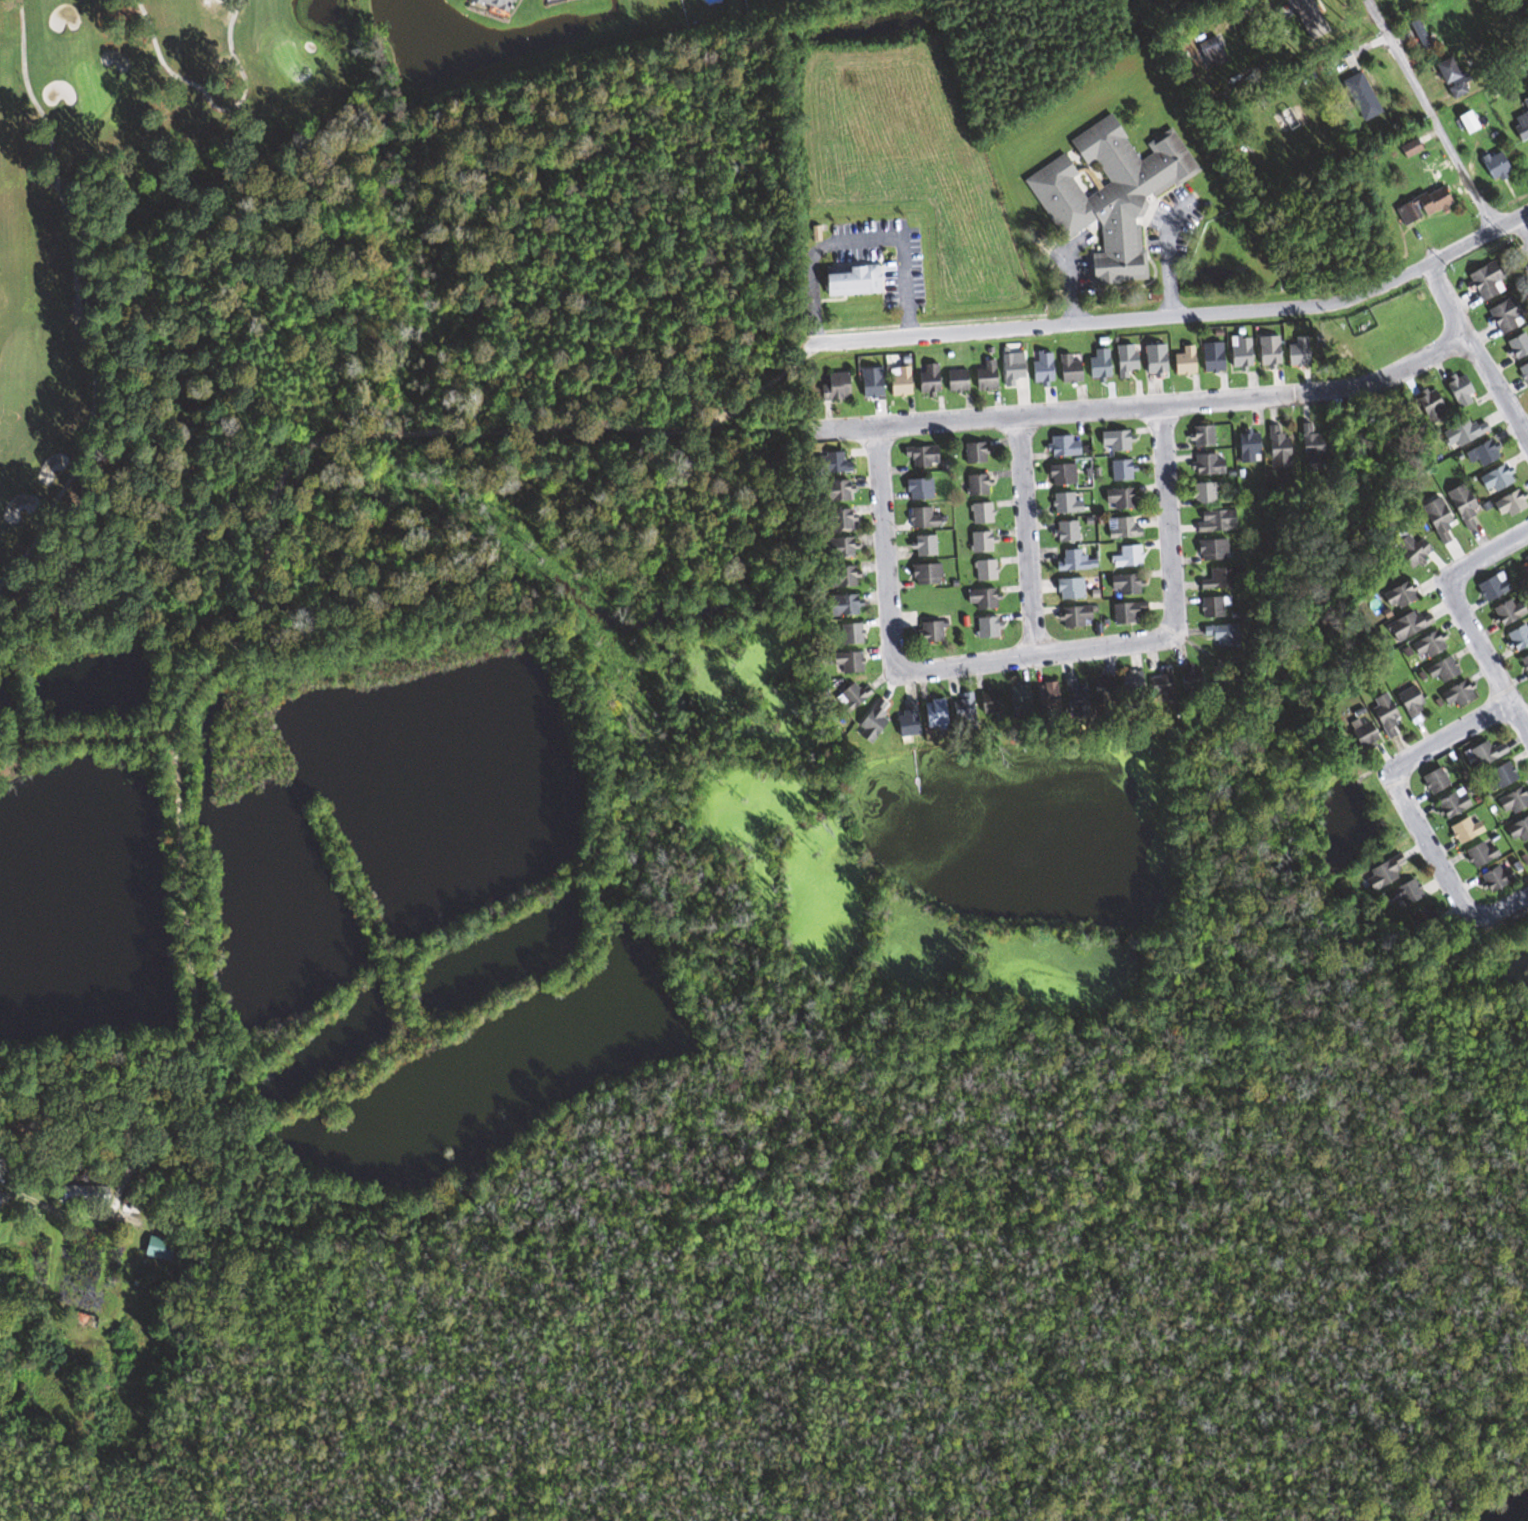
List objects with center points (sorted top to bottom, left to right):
building: (501, 3)
building: (1299, 11)
building: (1209, 53)
building: (1449, 79)
building: (1358, 97)
road: (1430, 115)
building: (1464, 122)
building: (1520, 129)
building: (1408, 148)
building: (1491, 166)
building: (1107, 194)
building: (1421, 205)
road: (1521, 231)
road: (1169, 264)
building: (856, 279)
building: (1482, 279)
road: (1071, 292)
building: (1501, 314)
building: (1516, 345)
road: (1476, 349)
building: (1266, 351)
building: (1296, 352)
building: (1238, 353)
building: (1209, 357)
building: (1152, 359)
building: (1122, 360)
building: (1181, 361)
building: (1095, 364)
building: (1009, 369)
building: (1039, 369)
building: (1066, 369)
building: (1523, 371)
building: (983, 376)
building: (932, 378)
building: (904, 380)
building: (958, 380)
building: (875, 382)
building: (840, 386)
building: (1458, 391)
road: (1145, 403)
building: (1429, 406)
road: (690, 428)
building: (1461, 432)
building: (1200, 435)
building: (1113, 440)
building: (1308, 445)
building: (1062, 446)
building: (1245, 446)
building: (1276, 449)
building: (974, 452)
building: (1480, 453)
building: (919, 455)
building: (838, 463)
building: (1206, 465)
building: (1120, 469)
building: (1058, 474)
building: (1493, 479)
building: (975, 484)
building: (916, 489)
building: (838, 491)
building: (1201, 493)
building: (1117, 498)
building: (1063, 503)
building: (1506, 503)
building: (1460, 507)
building: (978, 513)
road: (1167, 516)
building: (920, 518)
building: (840, 519)
building: (1435, 519)
building: (1213, 521)
building: (1120, 528)
building: (1063, 531)
road: (1026, 535)
building: (979, 542)
building: (922, 545)
building: (843, 547)
road: (886, 547)
building: (1406, 548)
building: (1210, 549)
building: (1125, 557)
building: (1072, 561)
building: (1525, 561)
building: (982, 570)
building: (923, 573)
building: (847, 575)
building: (1217, 579)
building: (1122, 584)
building: (1491, 586)
building: (1067, 588)
building: (1397, 596)
building: (980, 598)
building: (847, 604)
building: (1211, 606)
building: (1505, 611)
building: (1124, 612)
road: (1465, 616)
building: (1072, 617)
building: (1406, 626)
building: (985, 627)
building: (927, 631)
building: (857, 632)
building: (1220, 634)
building: (1516, 637)
building: (1425, 646)
road: (1038, 654)
building: (851, 661)
building: (1524, 663)
building: (1440, 669)
building: (1187, 681)
building: (1130, 683)
building: (1101, 686)
building: (1159, 686)
building: (1073, 691)
building: (1044, 694)
building: (1454, 694)
building: (855, 696)
building: (1016, 696)
building: (988, 702)
building: (1408, 704)
building: (962, 709)
building: (932, 713)
building: (1383, 715)
building: (908, 718)
building: (875, 723)
building: (1360, 733)
building: (1480, 754)
building: (1499, 775)
building: (1432, 780)
road: (1377, 791)
building: (1511, 801)
building: (1450, 803)
building: (1517, 829)
building: (1463, 830)
building: (1526, 849)
building: (1478, 854)
building: (1382, 873)
building: (1494, 877)
building: (1404, 892)
building: (1423, 916)
road: (1493, 917)
building: (86, 1175)
building: (89, 1194)
building: (0, 1200)

